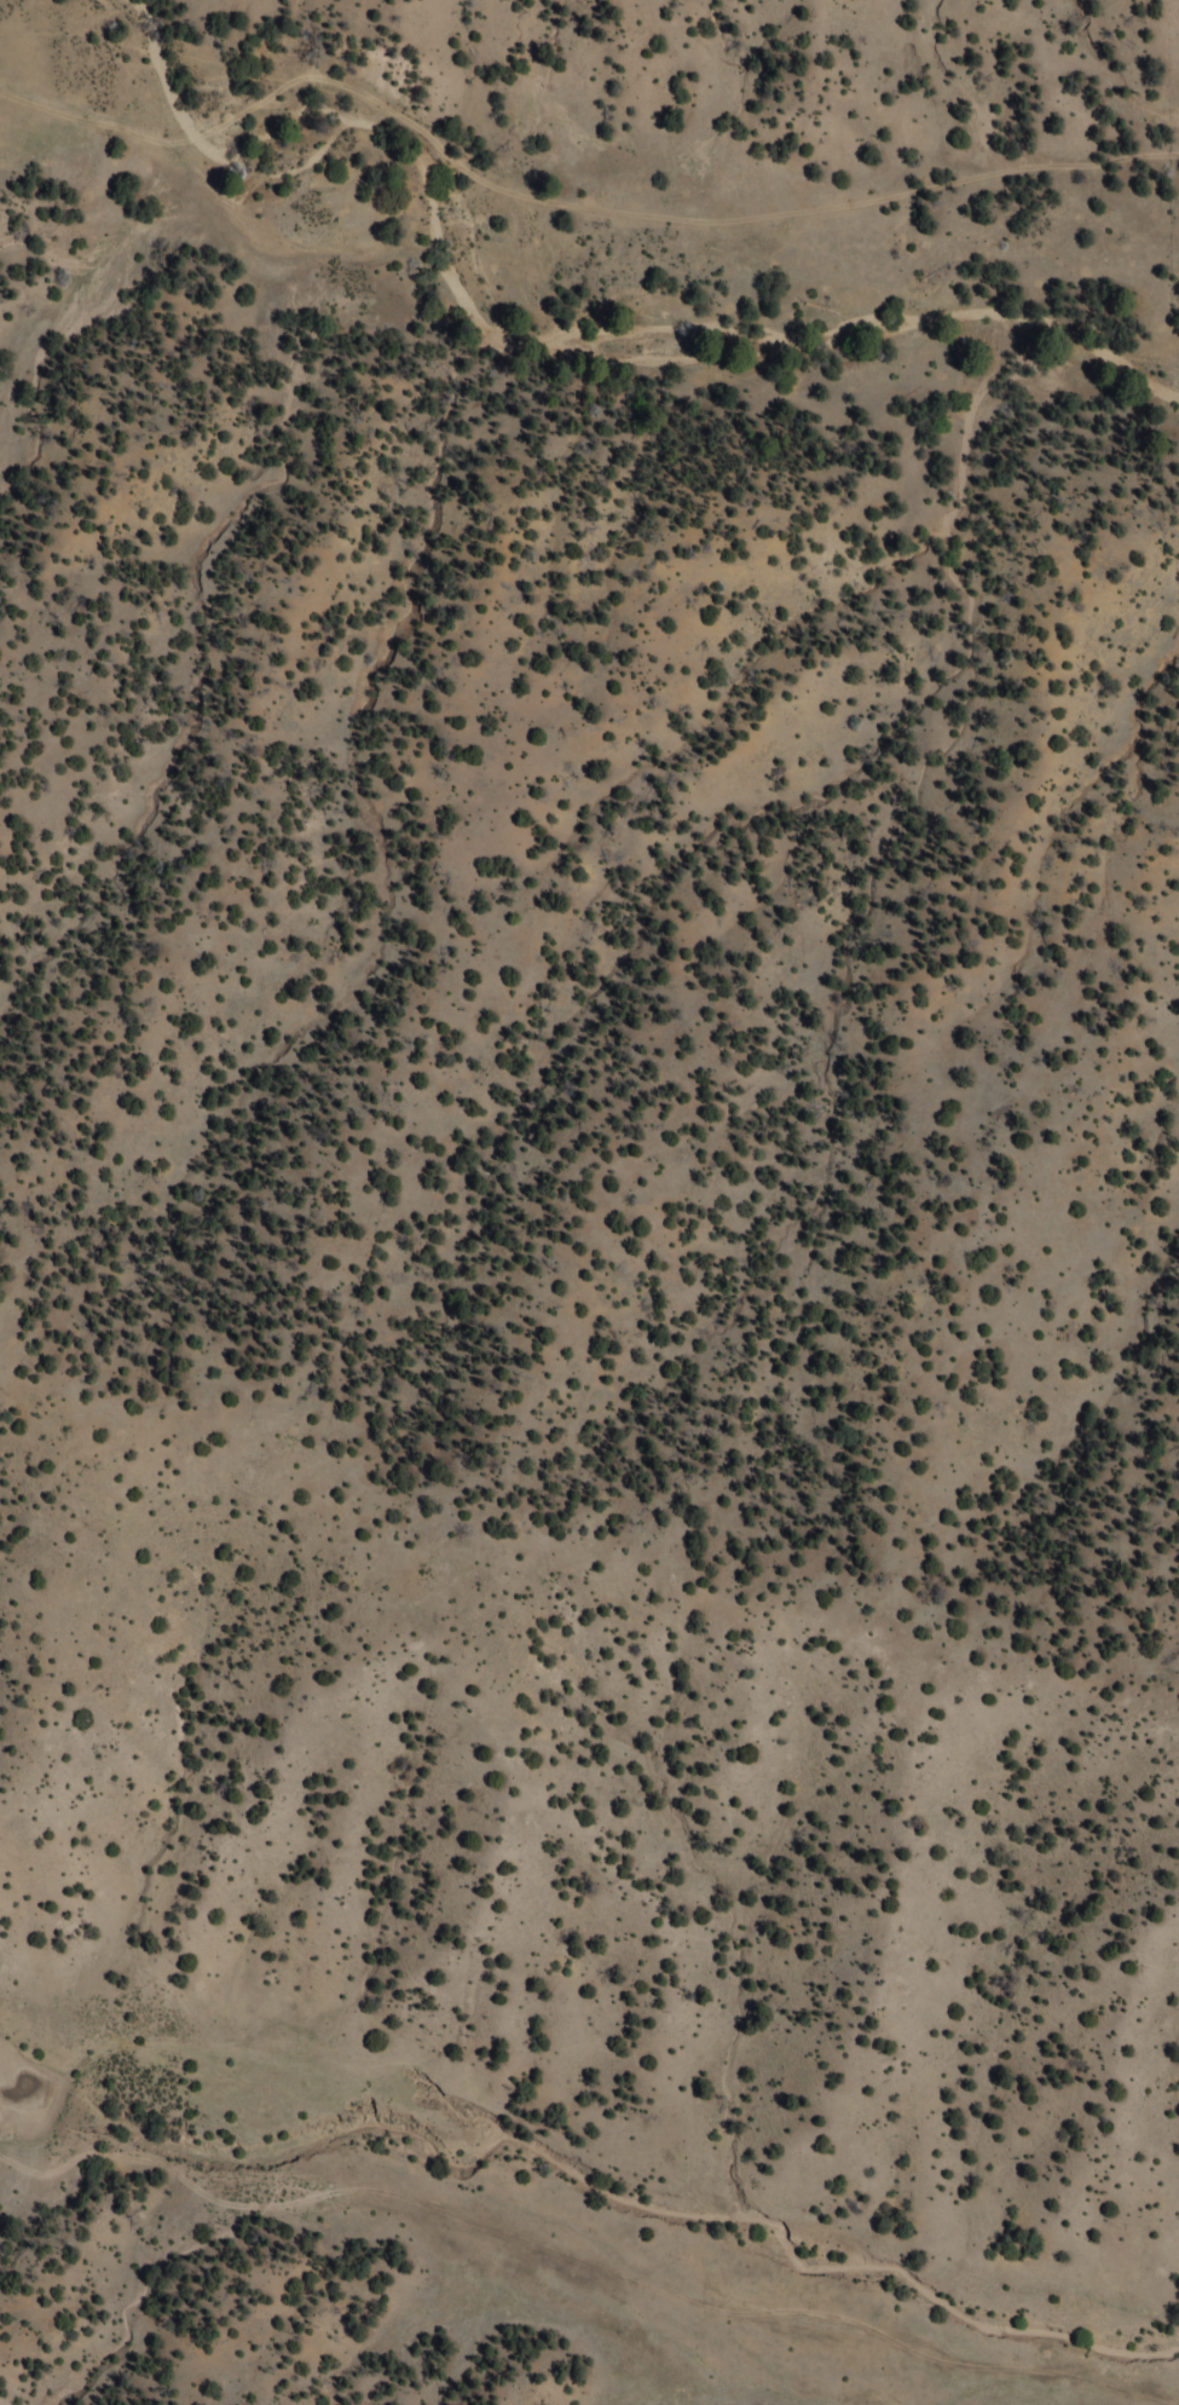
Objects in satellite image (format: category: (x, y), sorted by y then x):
road: (559, 203)
road: (576, 2255)

